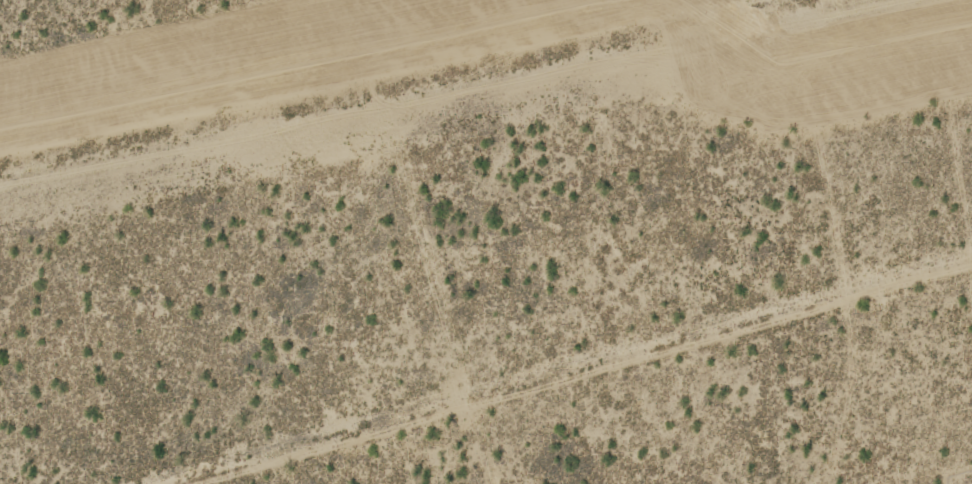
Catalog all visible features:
solar farm: (960, 477)

